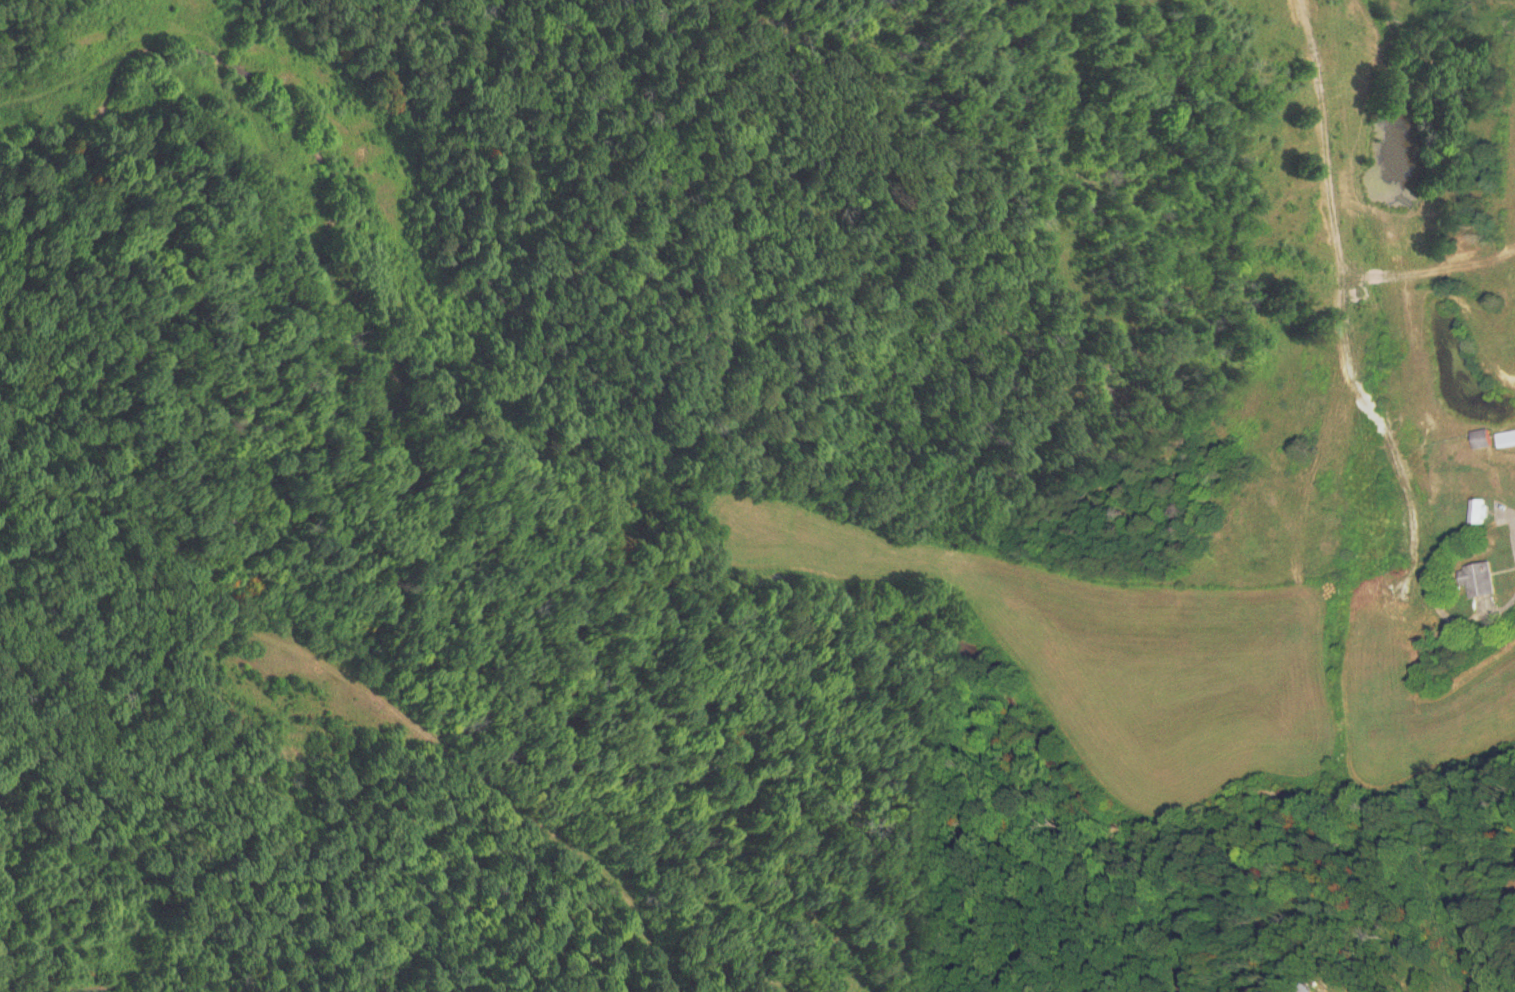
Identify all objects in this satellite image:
building: (1487, 439)
building: (1508, 439)
building: (1482, 510)
building: (1484, 579)
building: (1314, 988)

